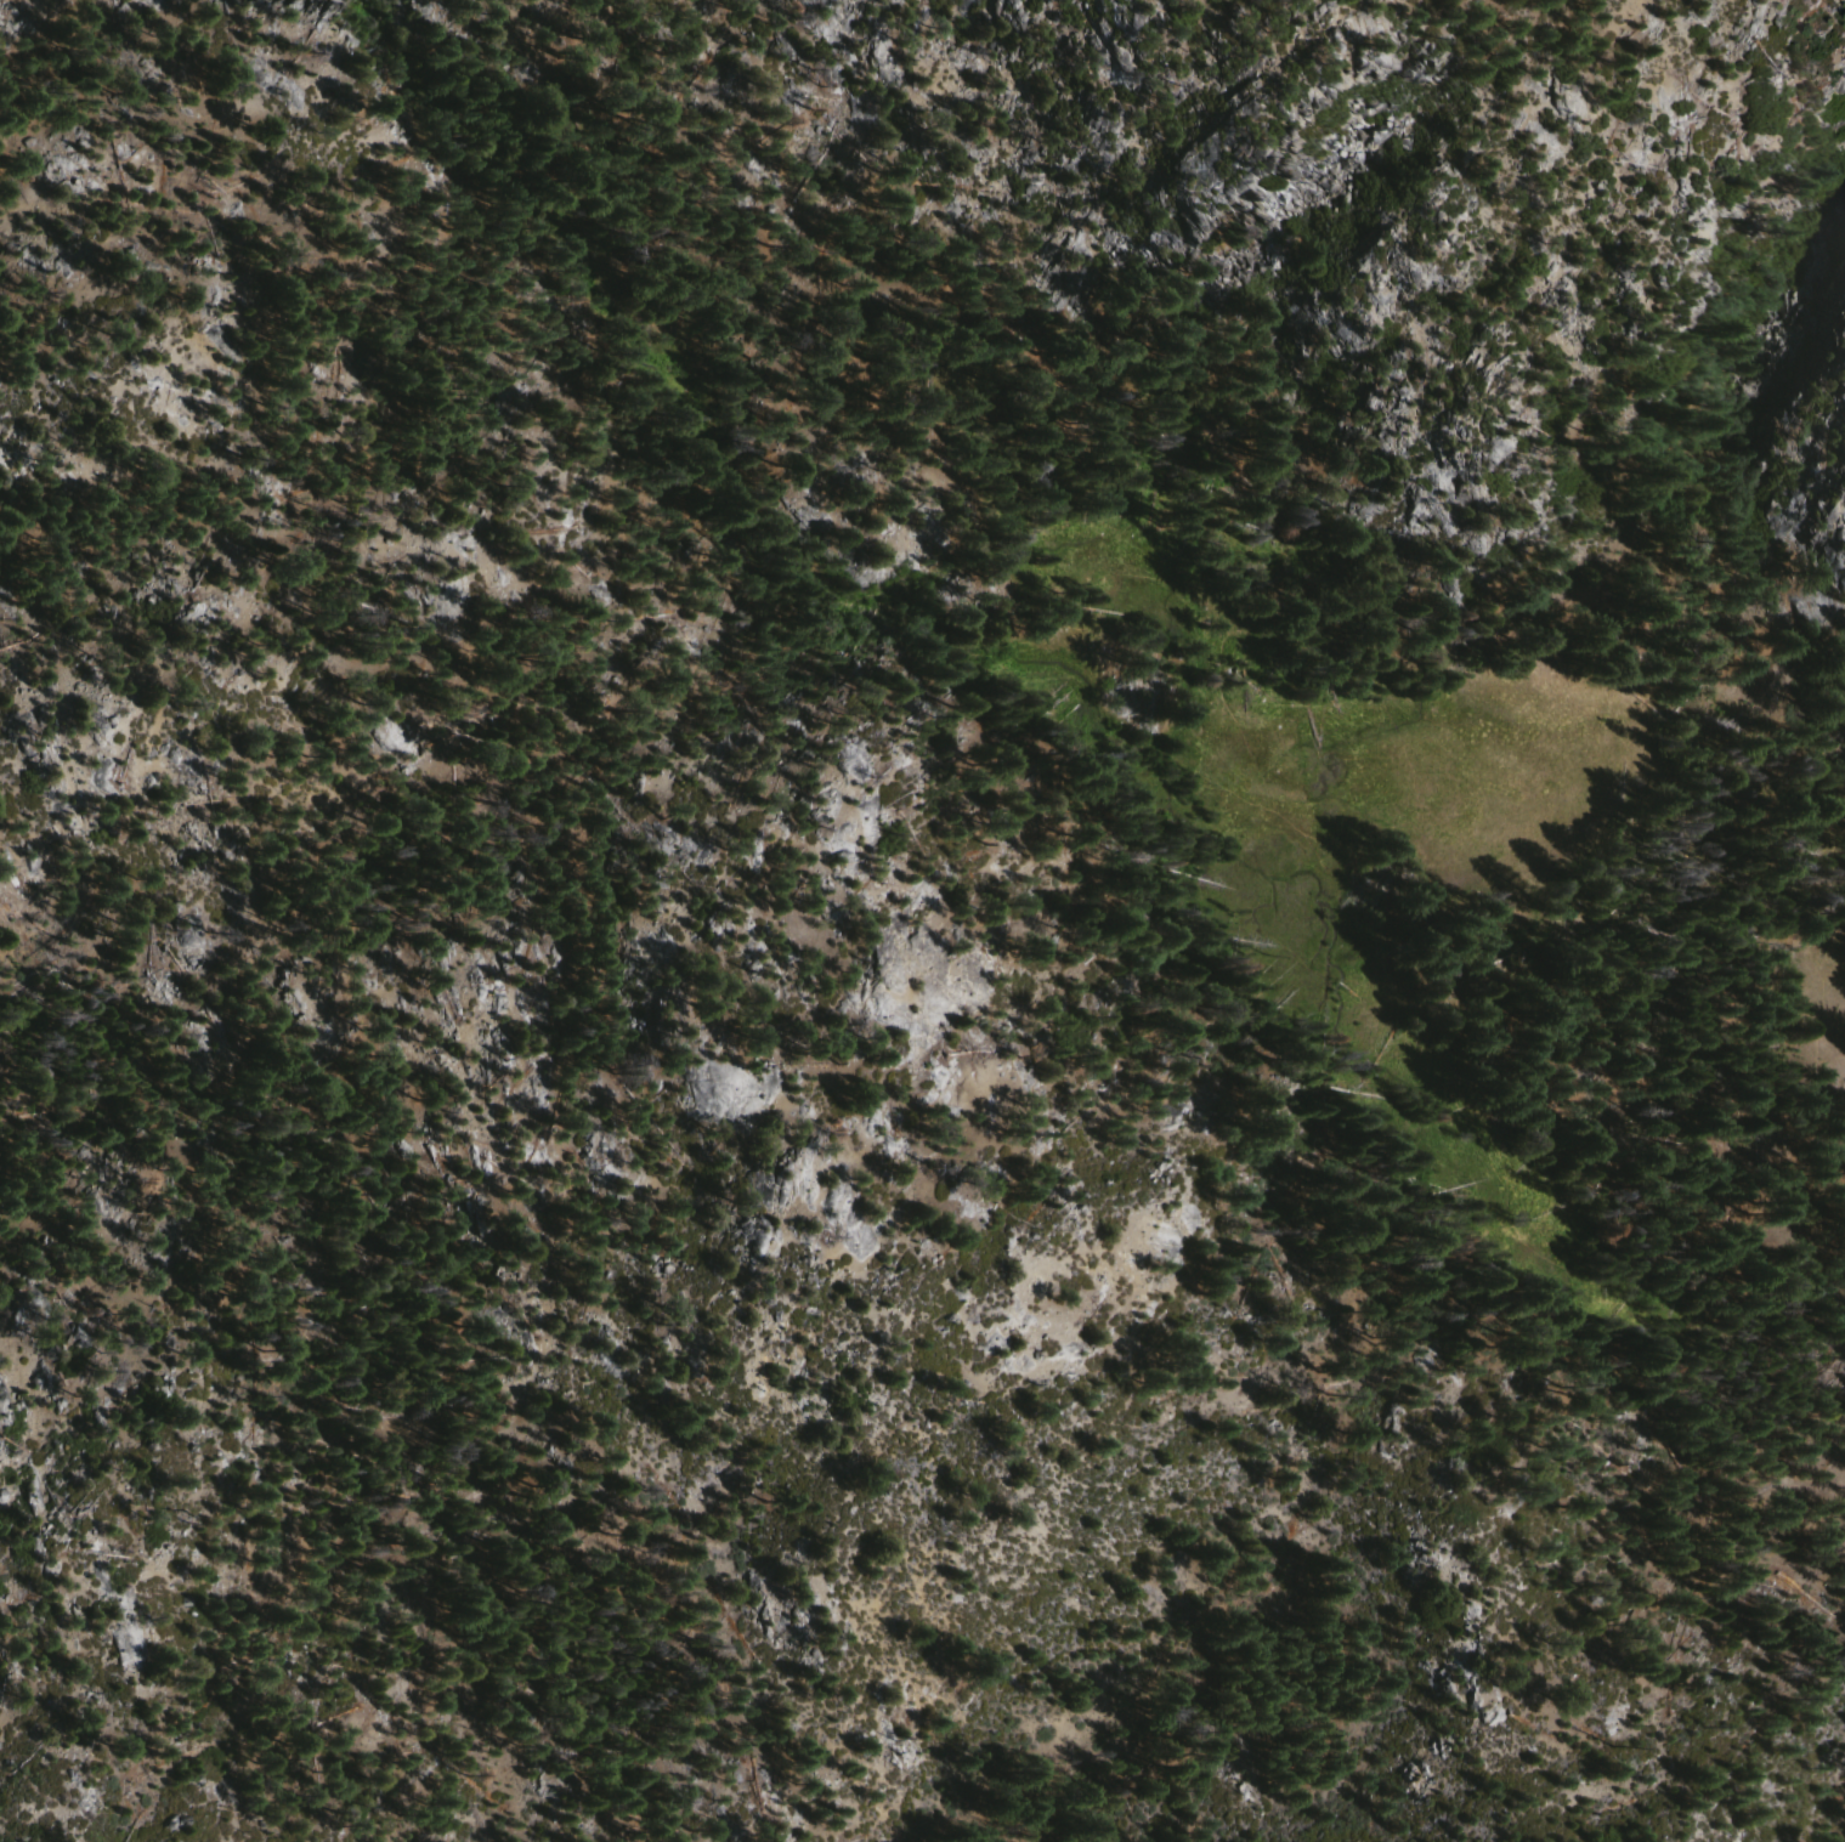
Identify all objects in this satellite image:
road: (1383, 583)

